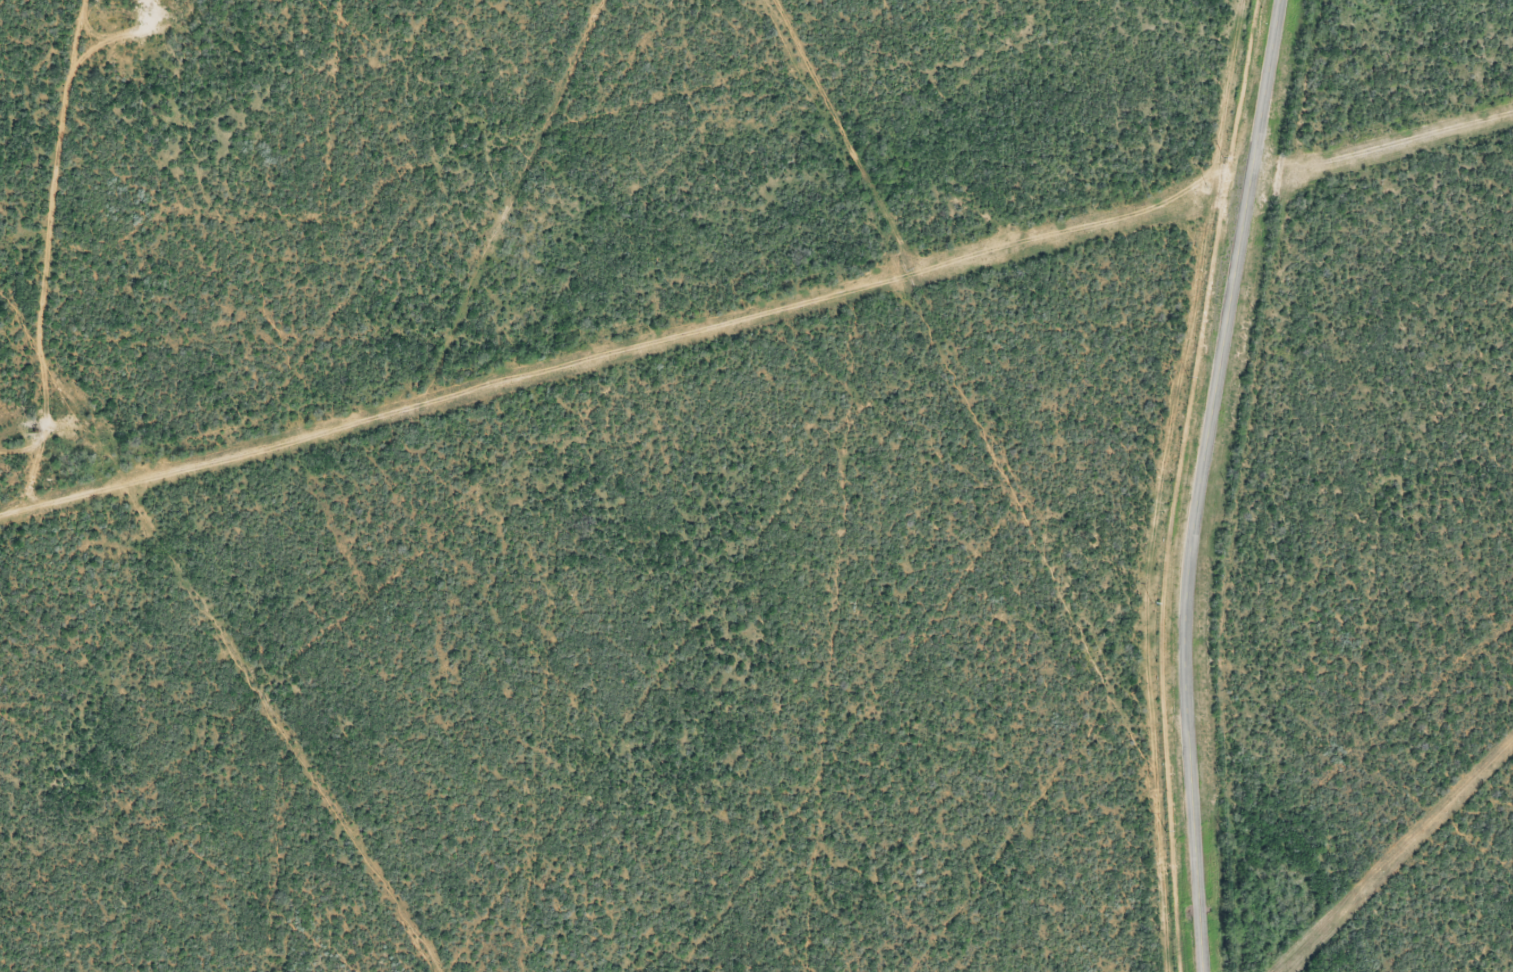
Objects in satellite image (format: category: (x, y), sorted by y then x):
road: (1219, 483)

